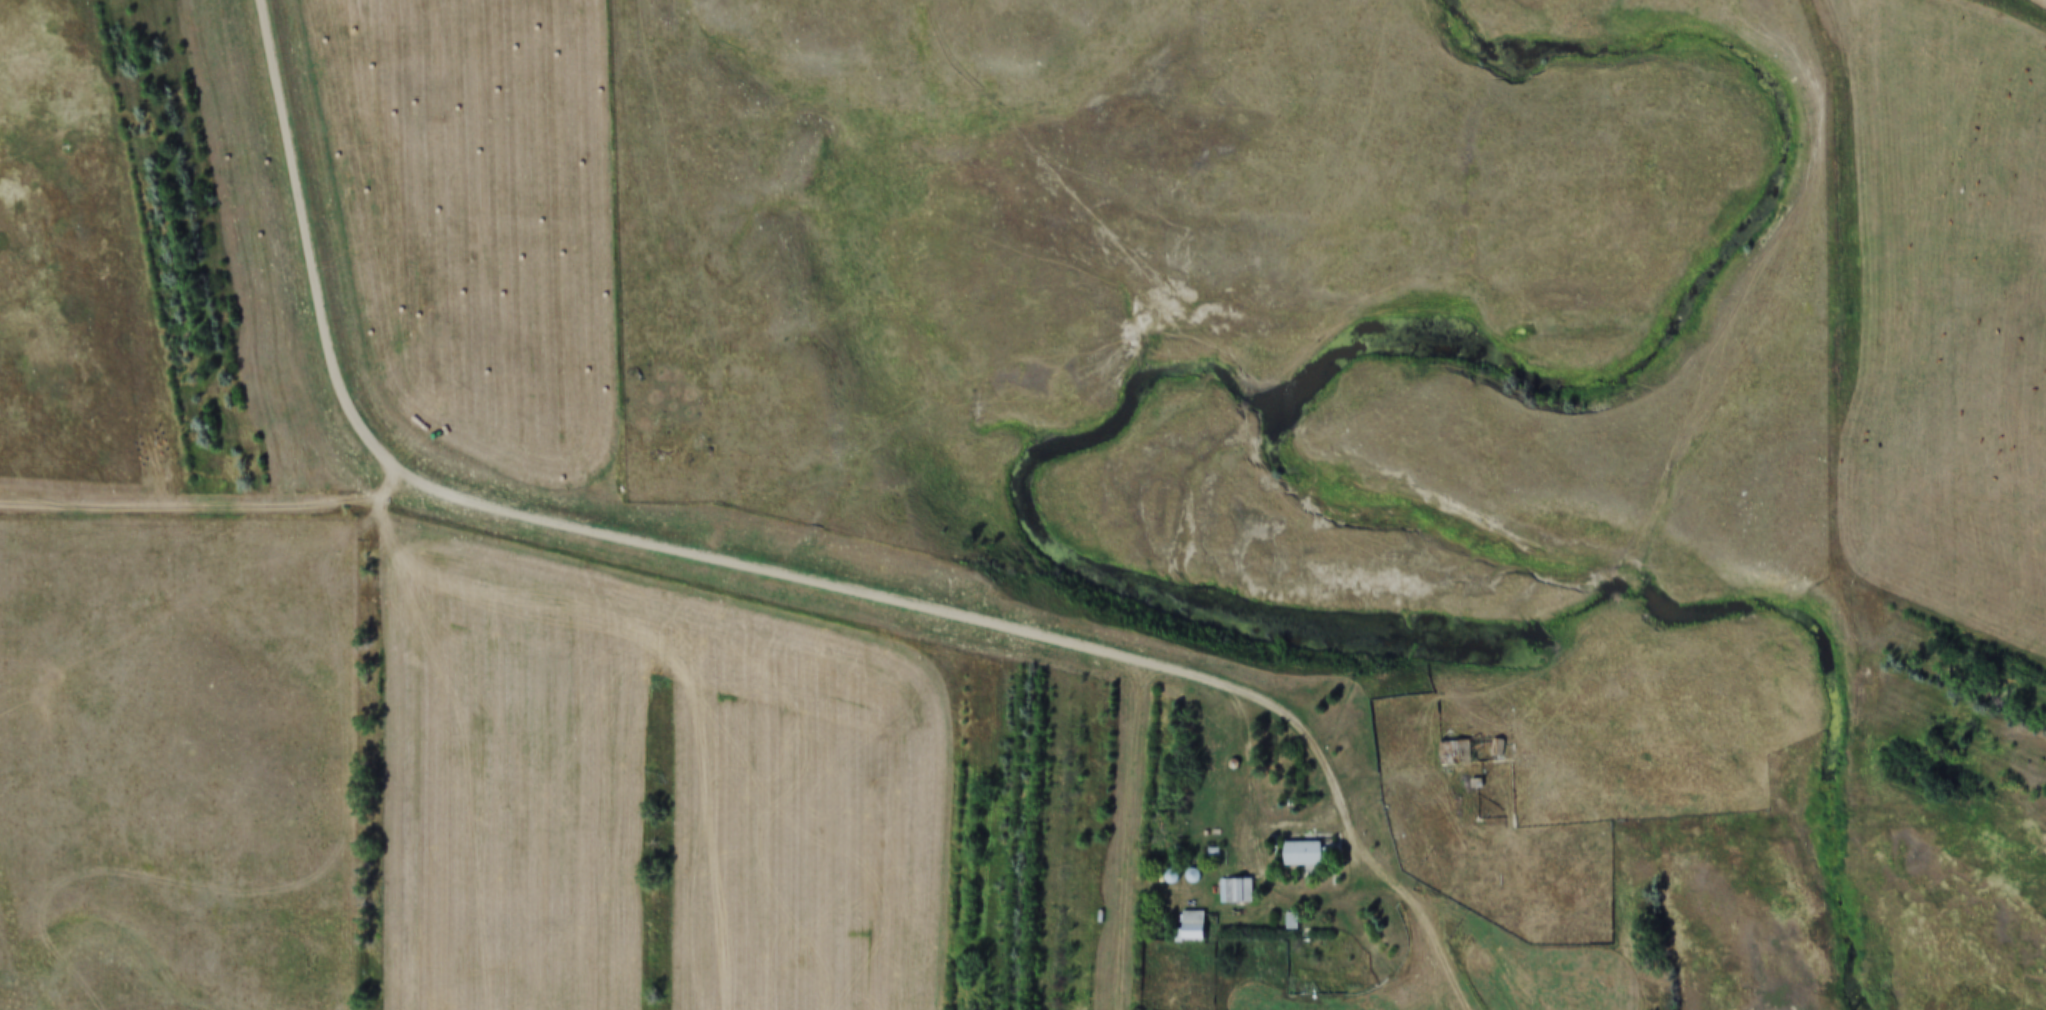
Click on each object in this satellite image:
road: (208, 507)
road: (692, 549)
building: (1459, 749)
road: (1305, 819)
road: (1139, 833)
road: (1259, 836)
building: (1300, 853)
building: (1234, 890)
building: (1190, 925)
road: (1429, 931)
road: (1383, 947)

